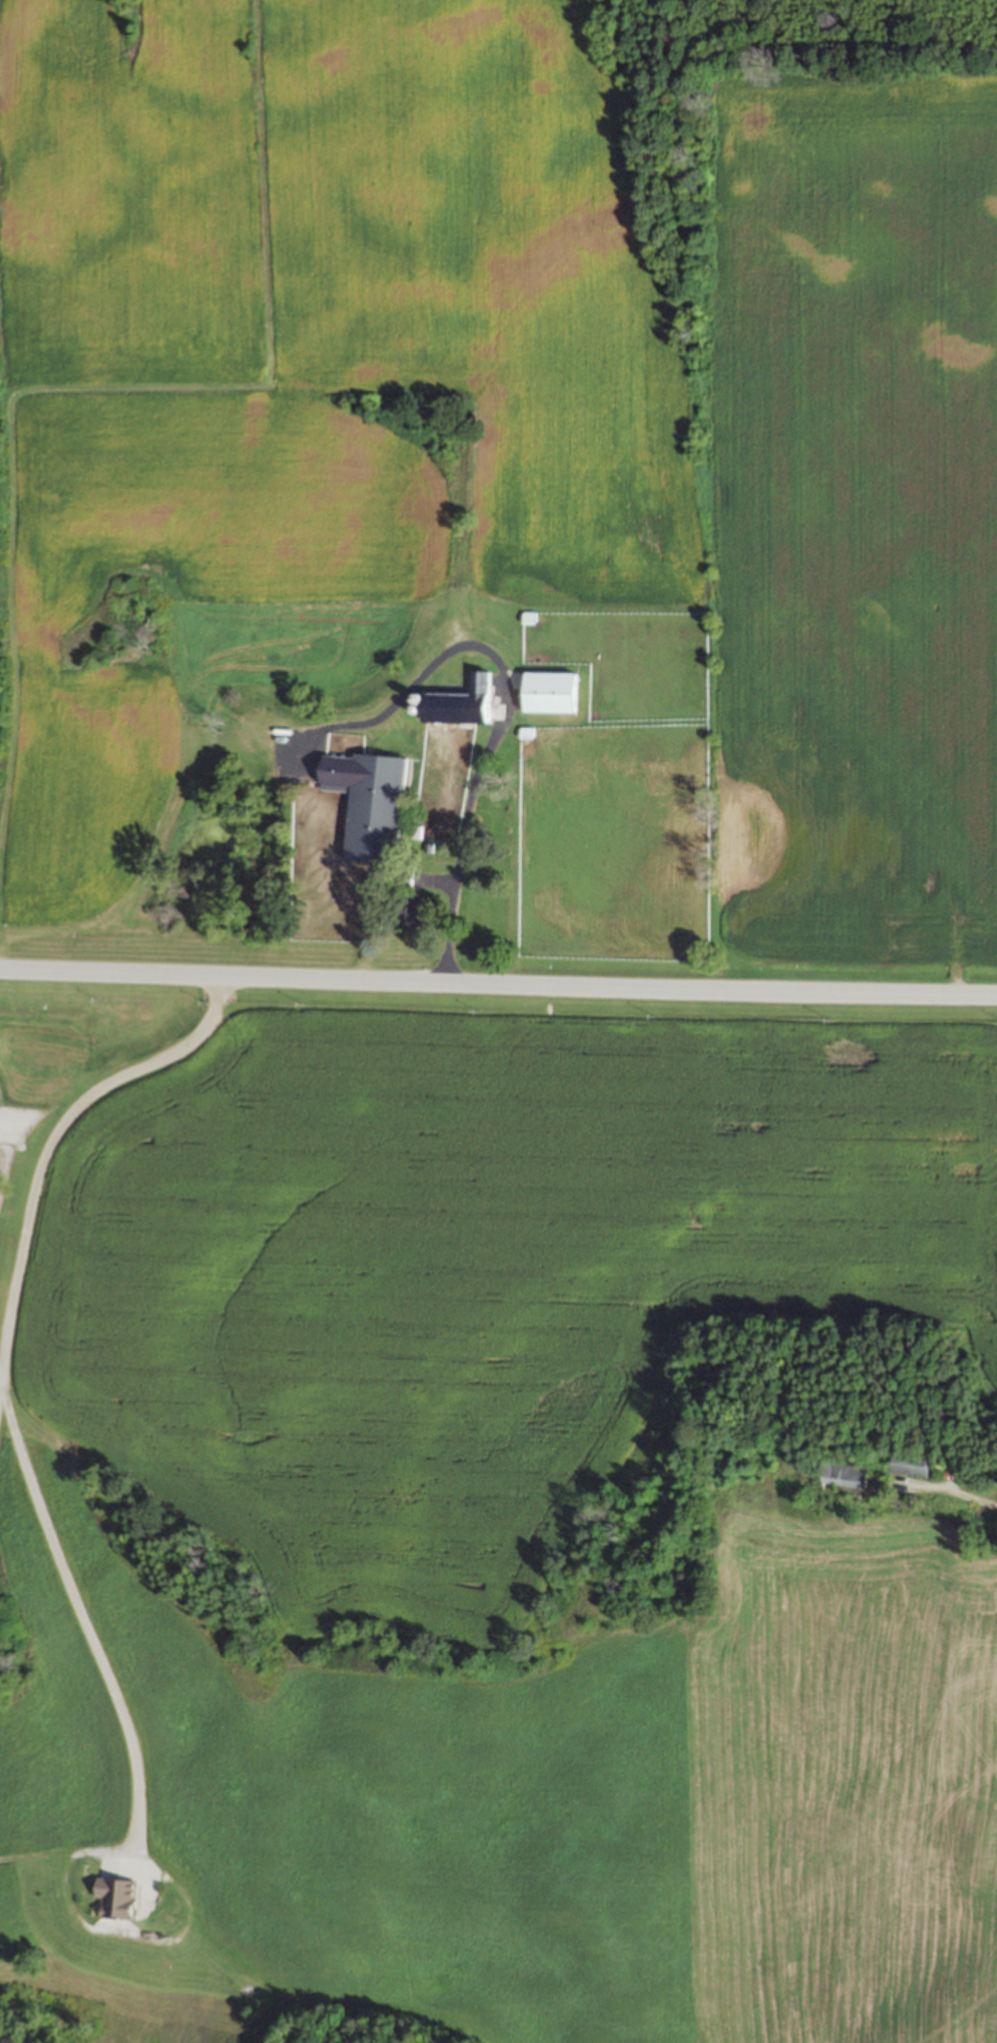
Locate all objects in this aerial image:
building: (548, 693)
building: (455, 704)
road: (501, 709)
building: (367, 804)
building: (413, 910)
road: (498, 981)
road: (49, 1137)
building: (9, 1190)
building: (910, 1464)
building: (845, 1474)
road: (969, 1495)
road: (78, 1616)
building: (114, 1897)

